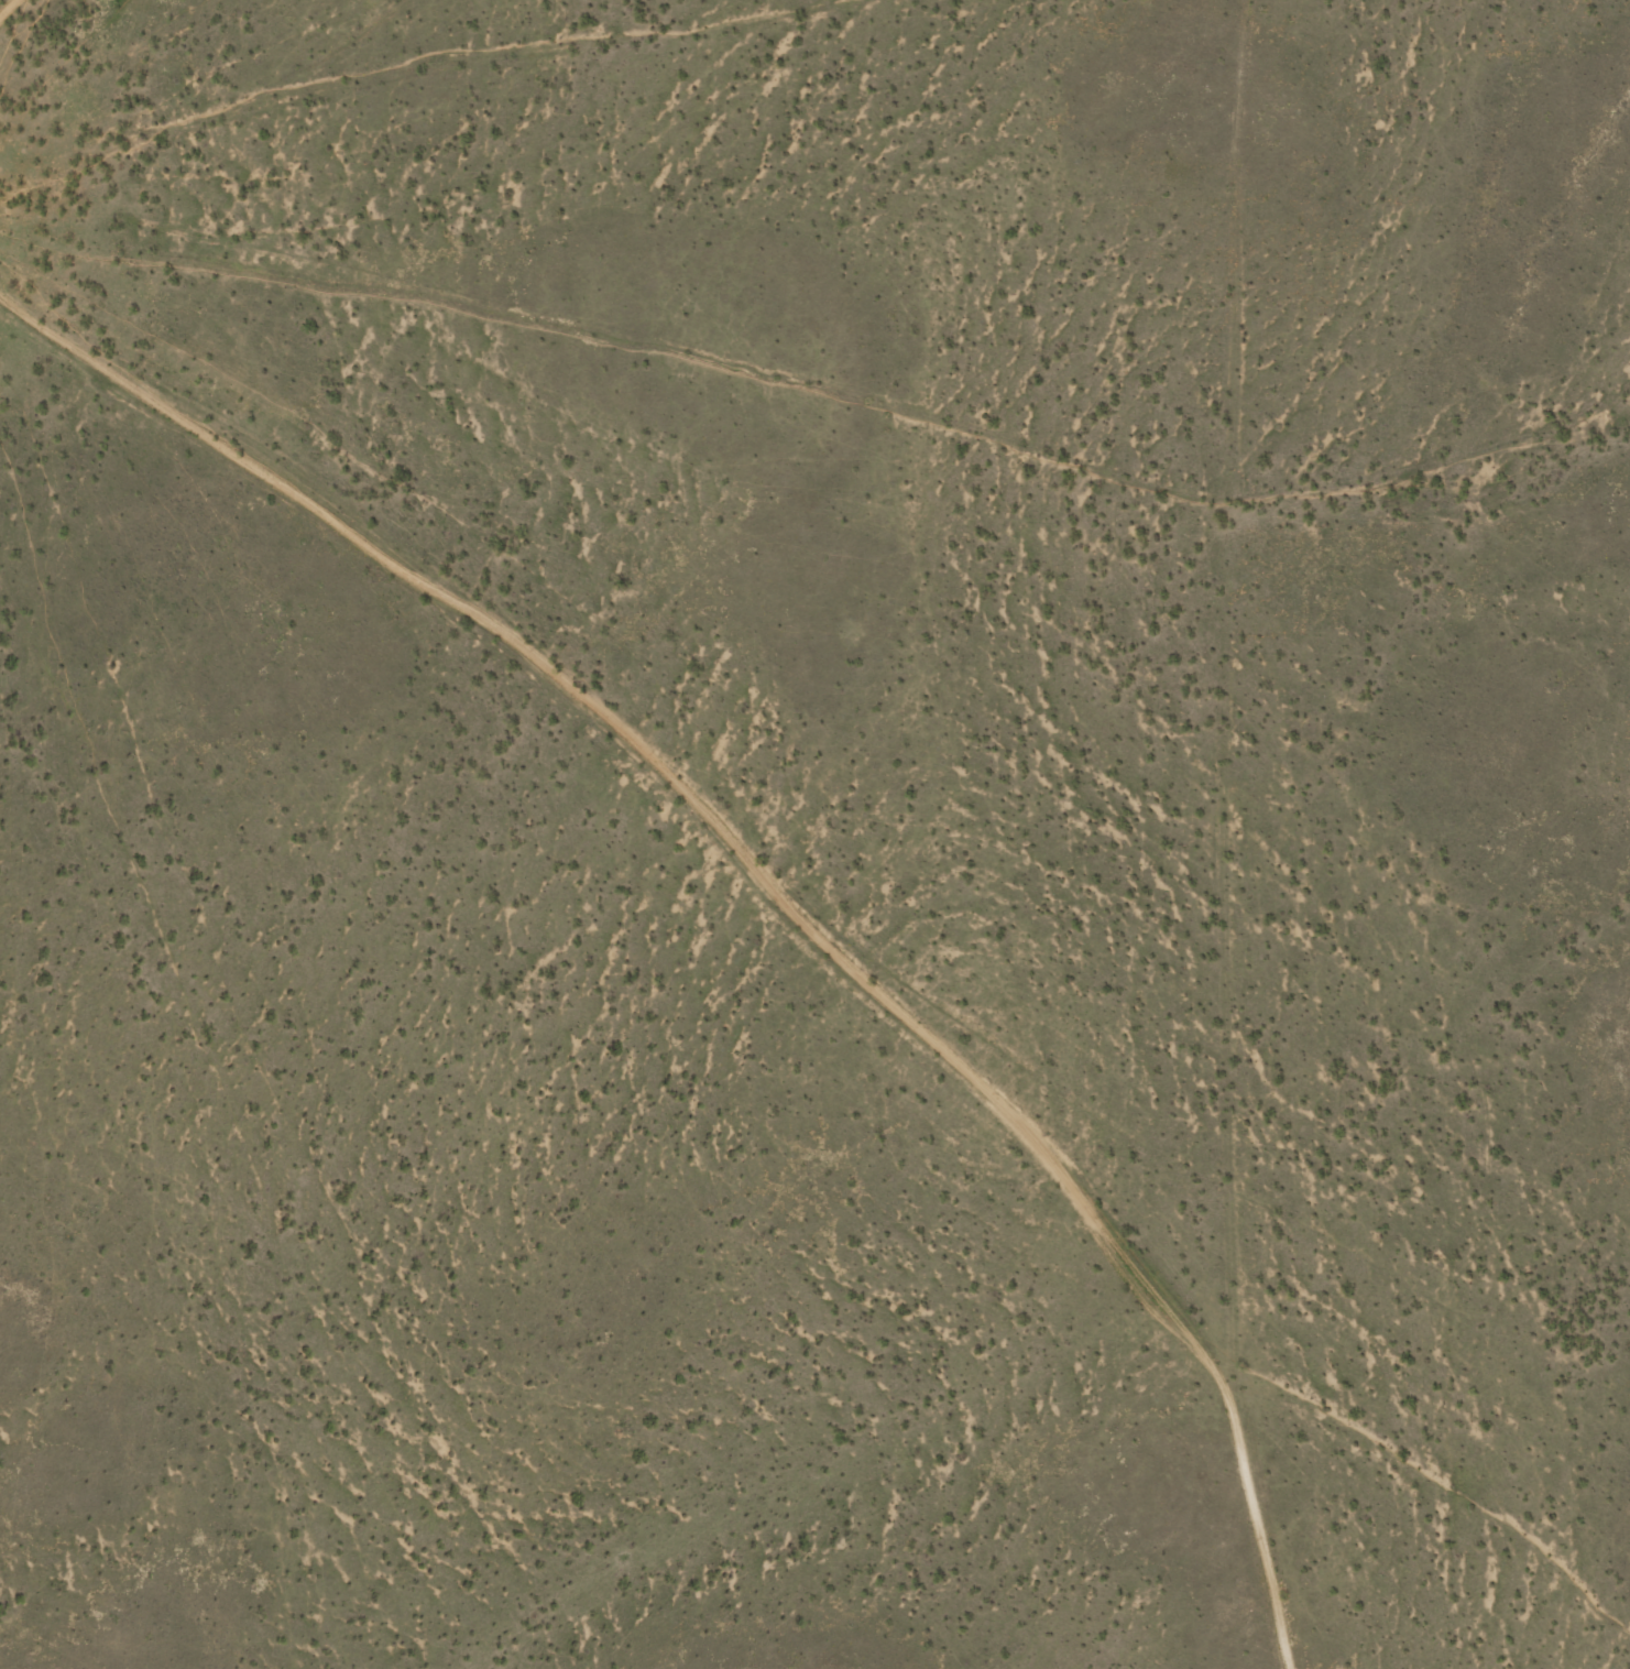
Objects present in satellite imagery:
road: (54, 57)
road: (1249, 837)

